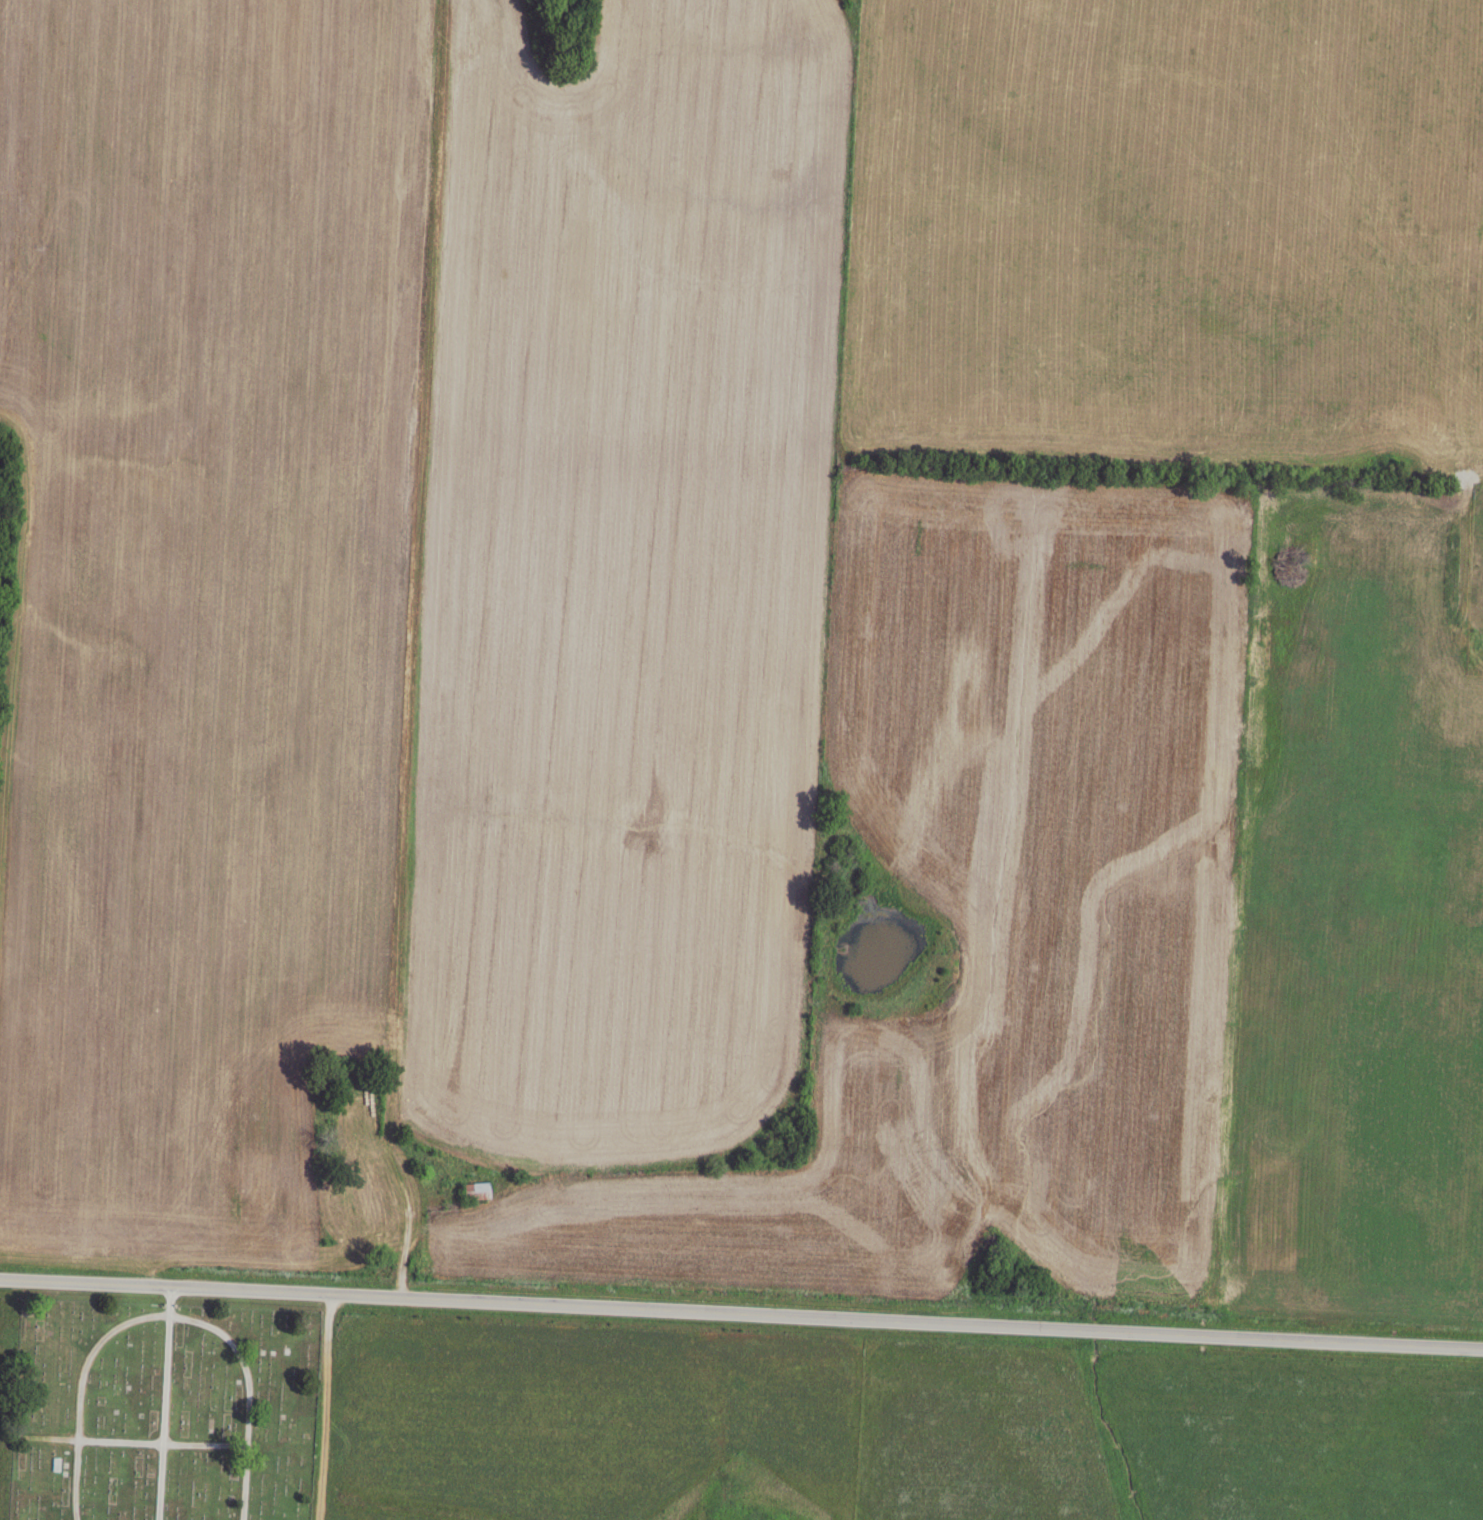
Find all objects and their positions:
road: (763, 1196)
road: (163, 1314)
road: (741, 1314)
road: (164, 1403)
road: (325, 1408)
park: (158, 1410)
road: (136, 1442)

